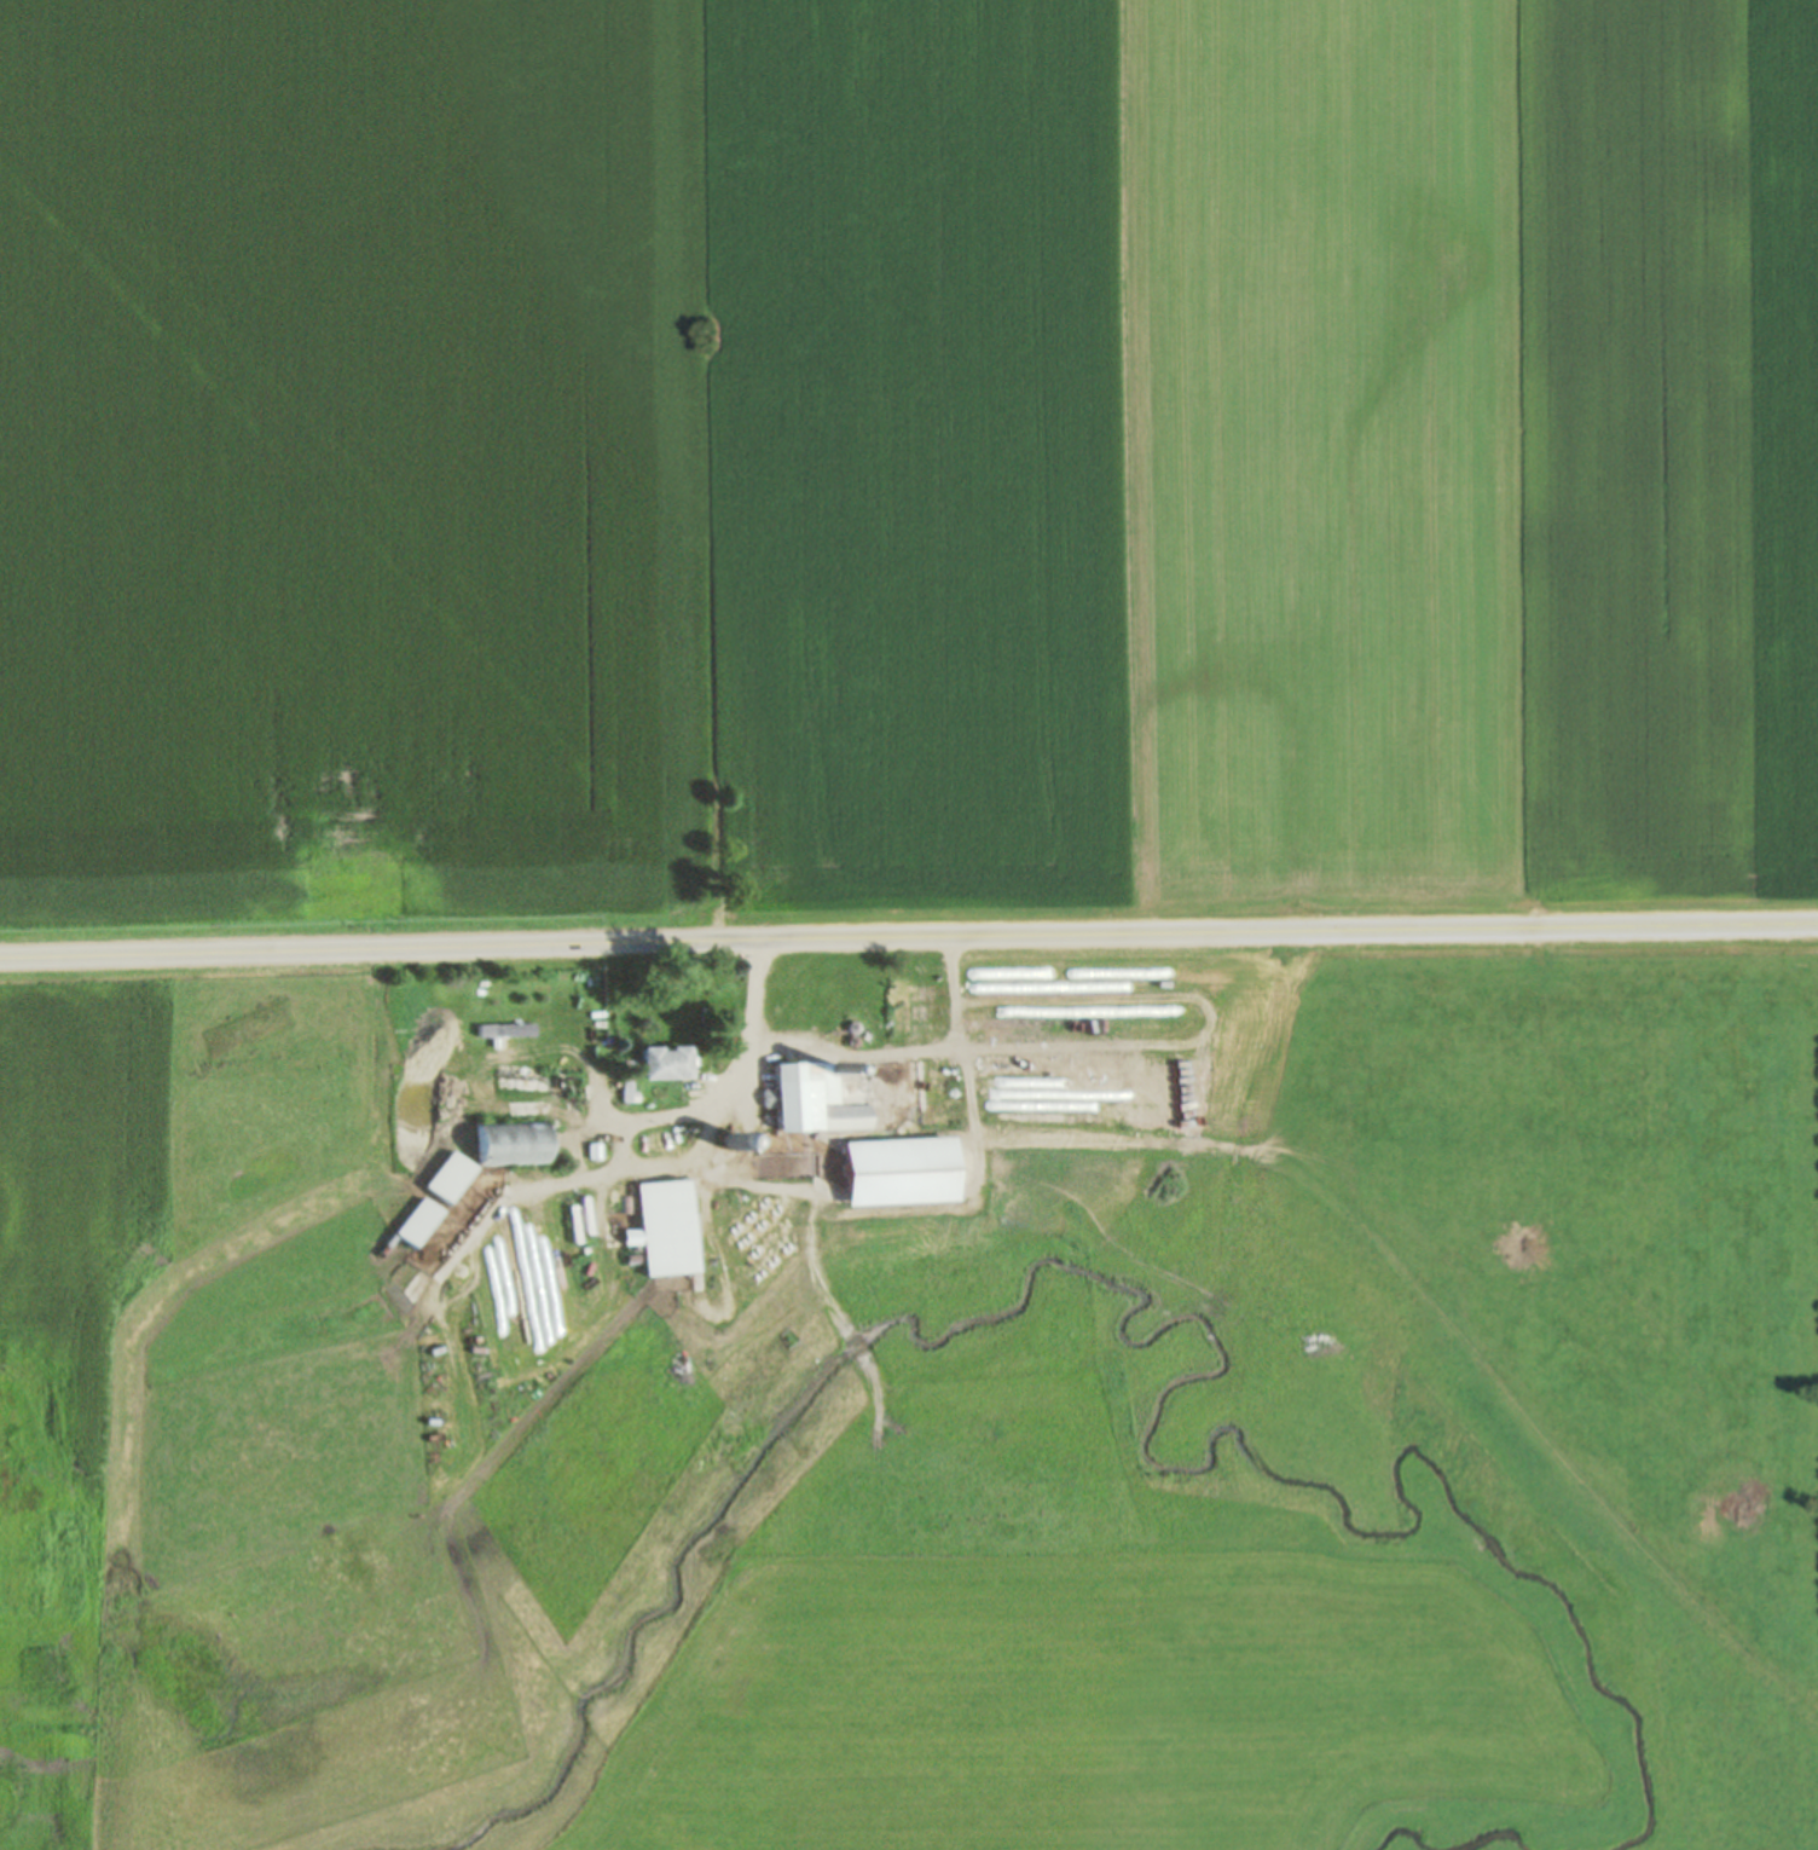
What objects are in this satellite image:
road: (908, 940)
building: (505, 1030)
building: (664, 1064)
road: (562, 1071)
building: (810, 1099)
building: (511, 1143)
road: (658, 1163)
building: (447, 1177)
building: (416, 1222)
building: (662, 1227)

